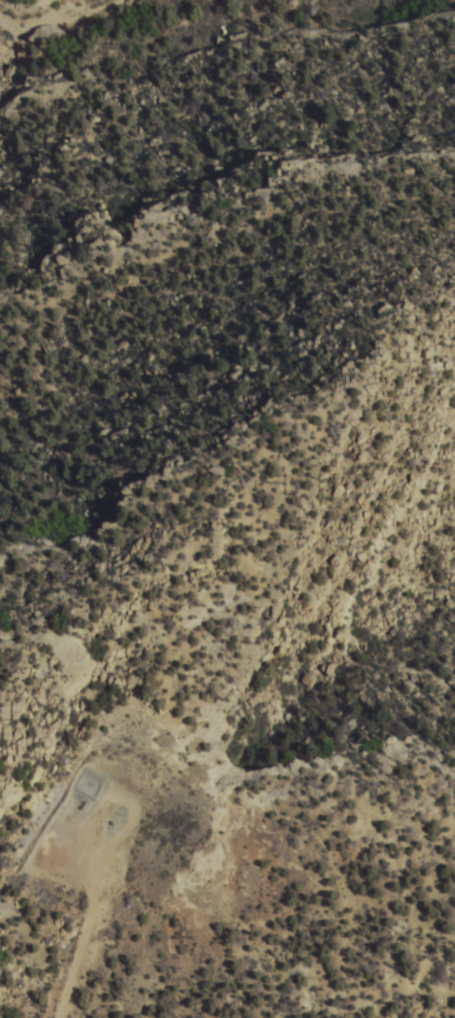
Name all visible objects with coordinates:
road: (89, 954)

